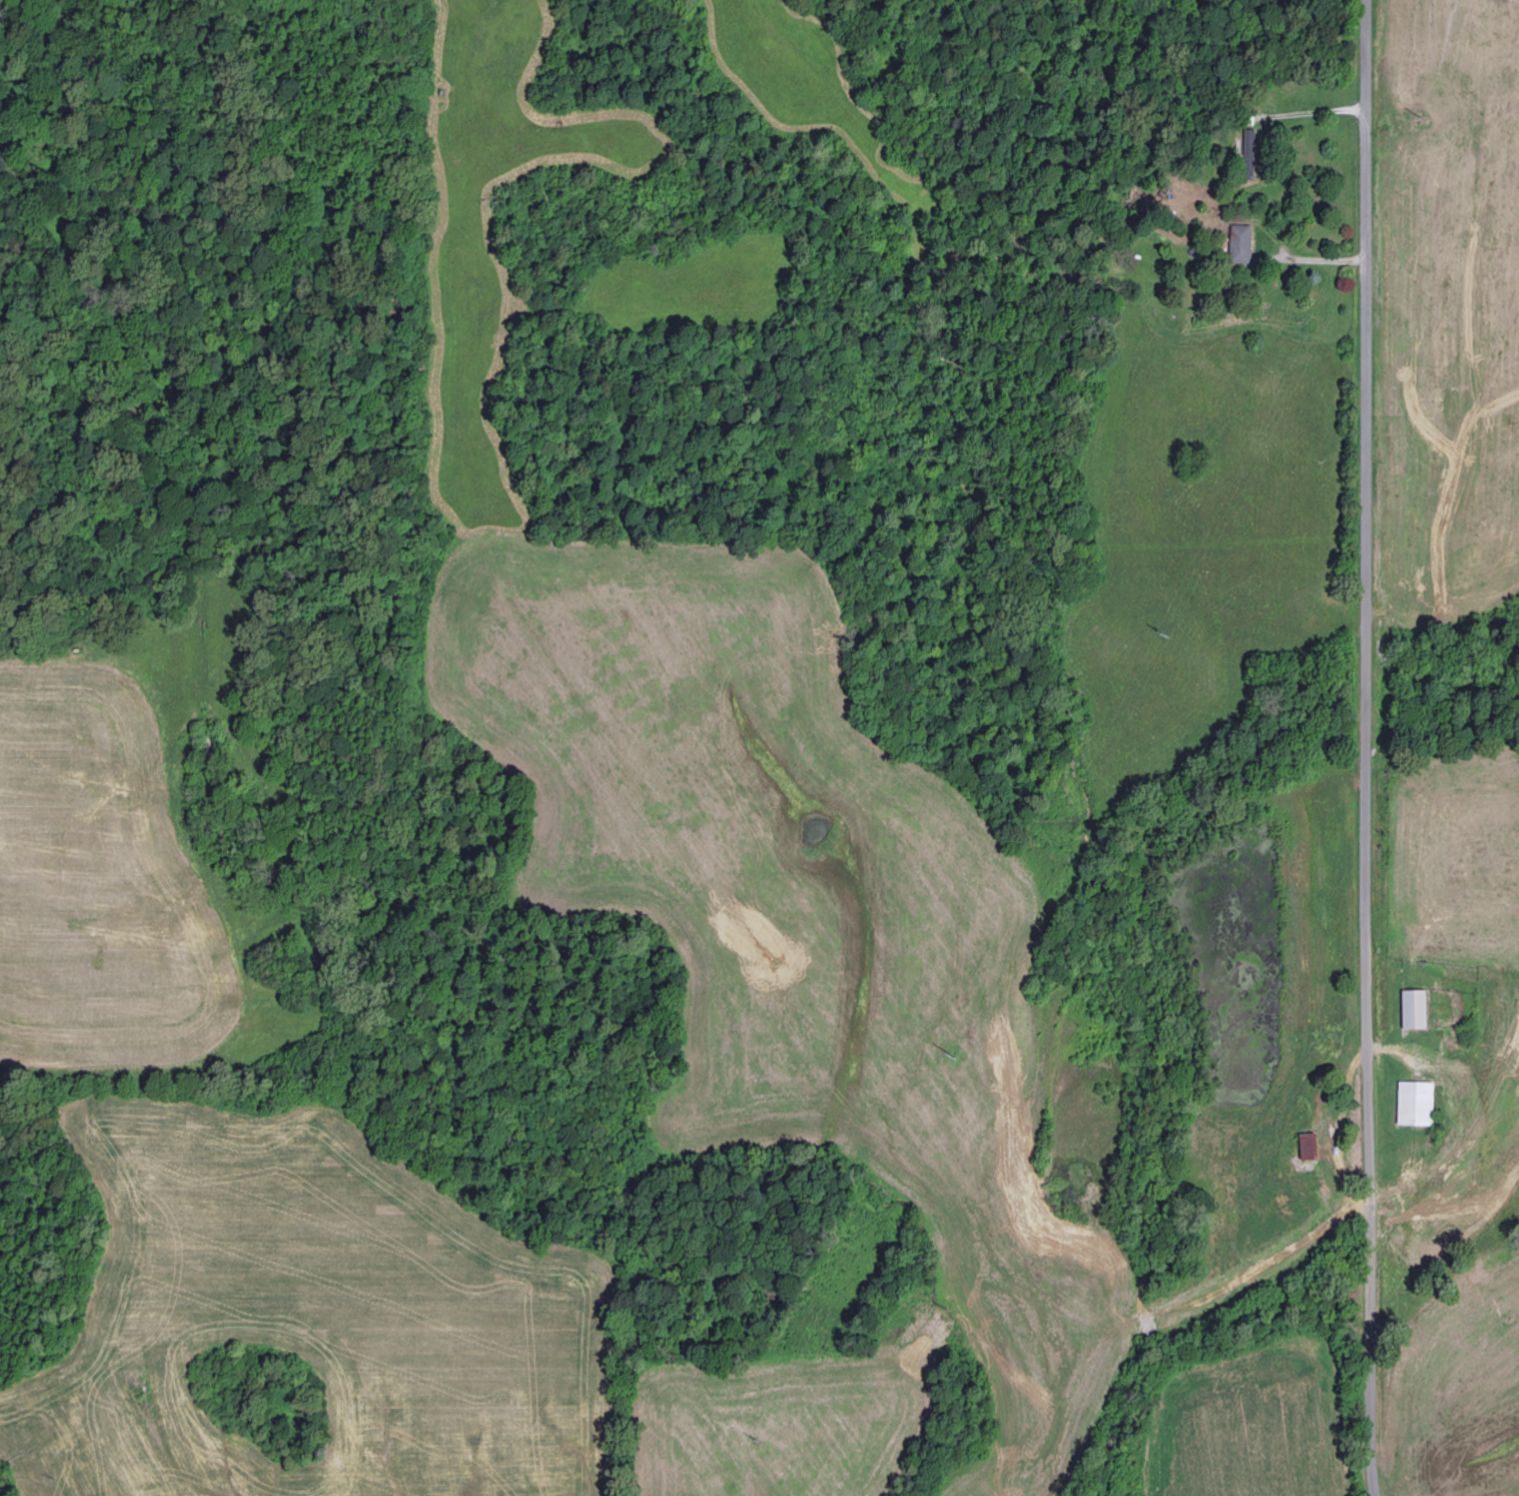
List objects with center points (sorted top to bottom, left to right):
building: (1251, 145)
building: (1243, 245)
road: (1368, 748)
building: (1417, 1011)
building: (1419, 1105)
building: (1311, 1148)

